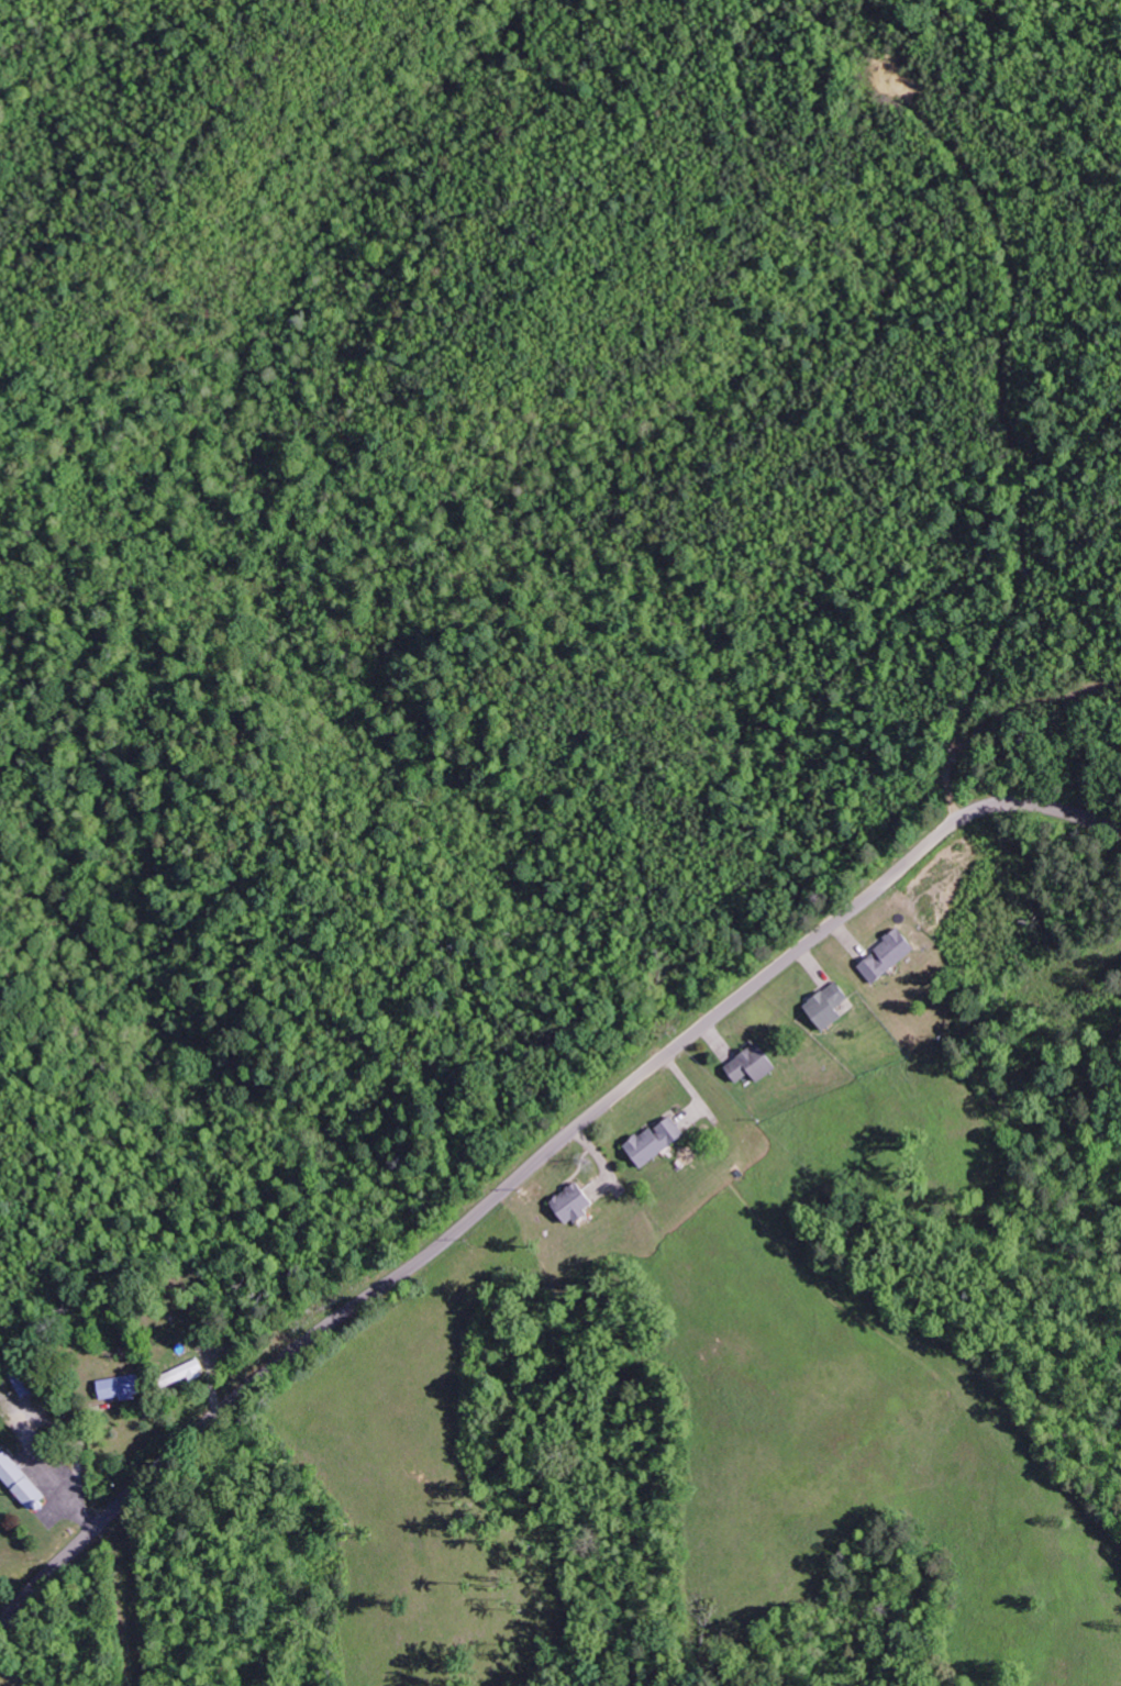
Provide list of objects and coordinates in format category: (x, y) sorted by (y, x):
building: (830, 1005)
building: (652, 1141)
road: (534, 1164)
building: (568, 1204)
building: (180, 1374)
building: (108, 1388)
building: (18, 1480)

